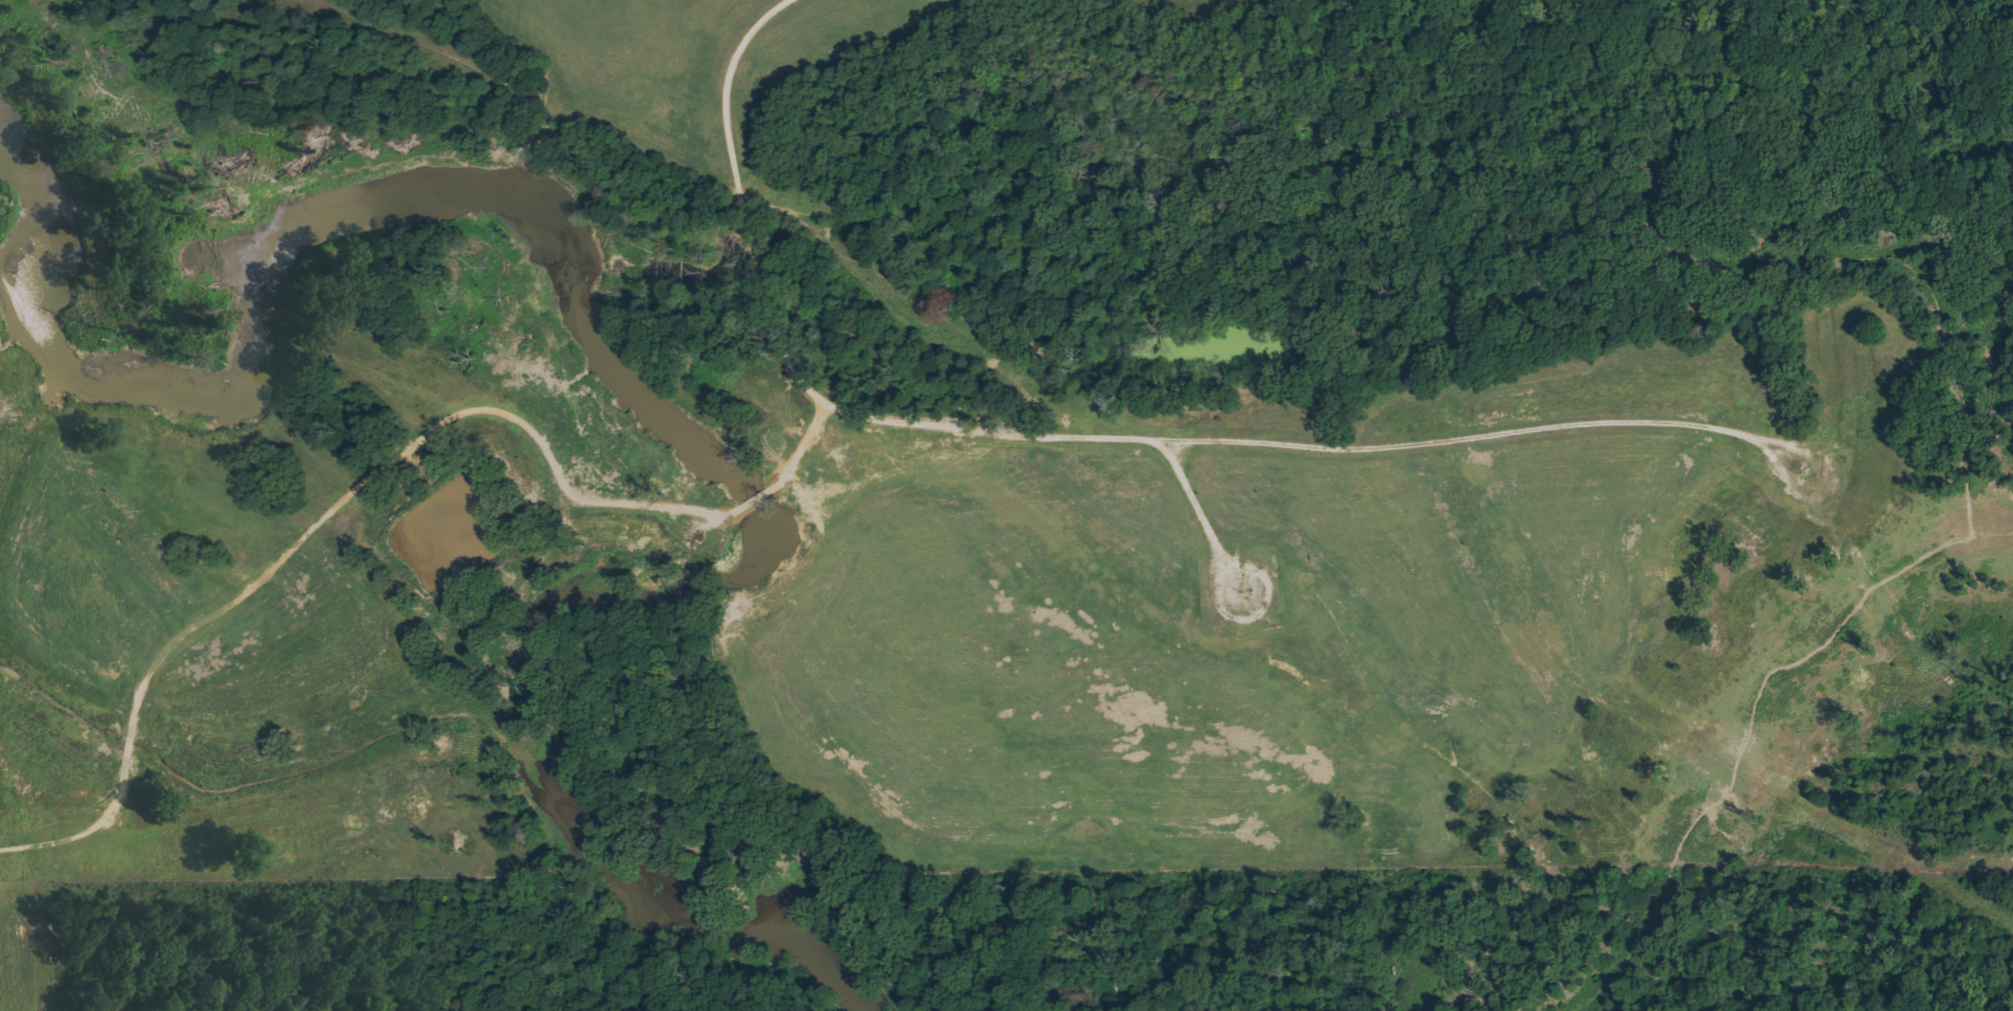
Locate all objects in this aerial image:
road: (1070, 431)

